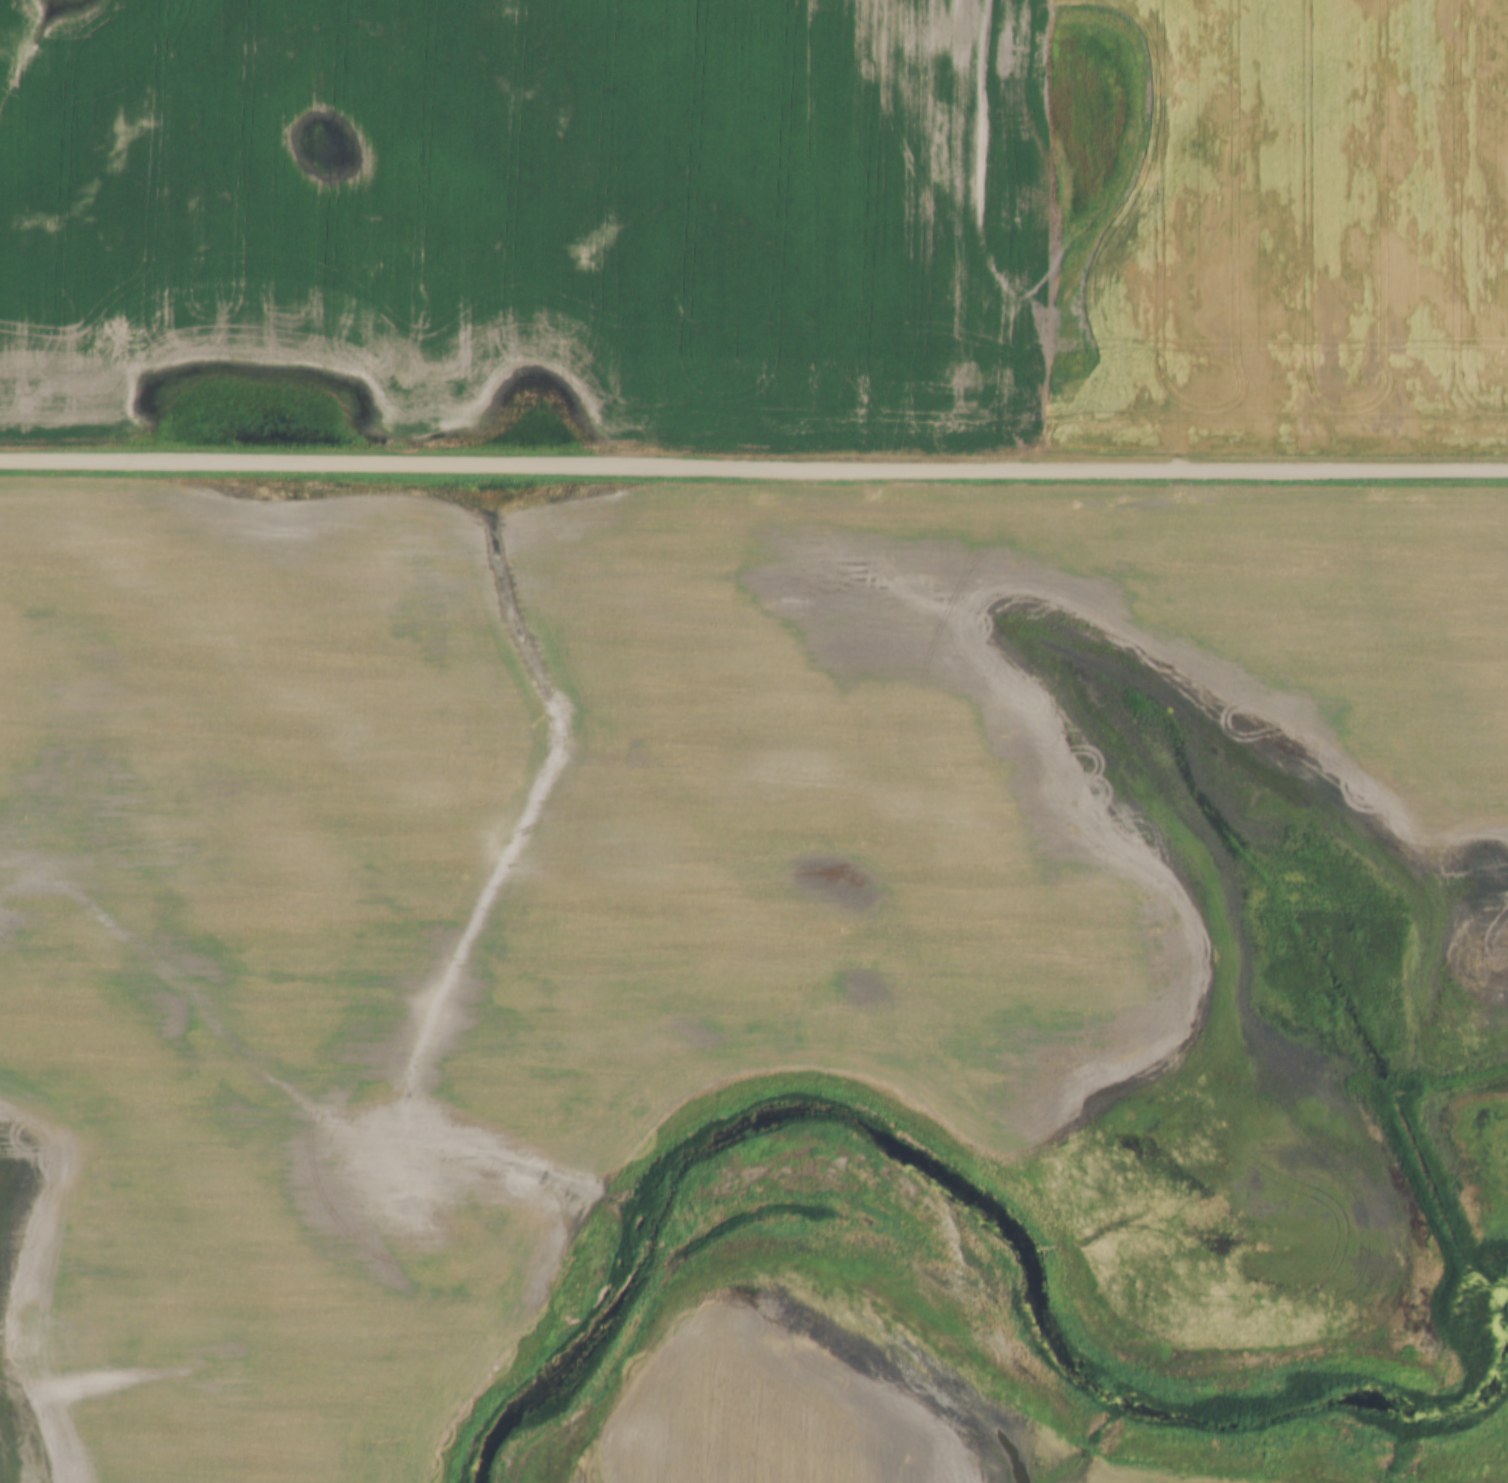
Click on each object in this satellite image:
road: (753, 466)

